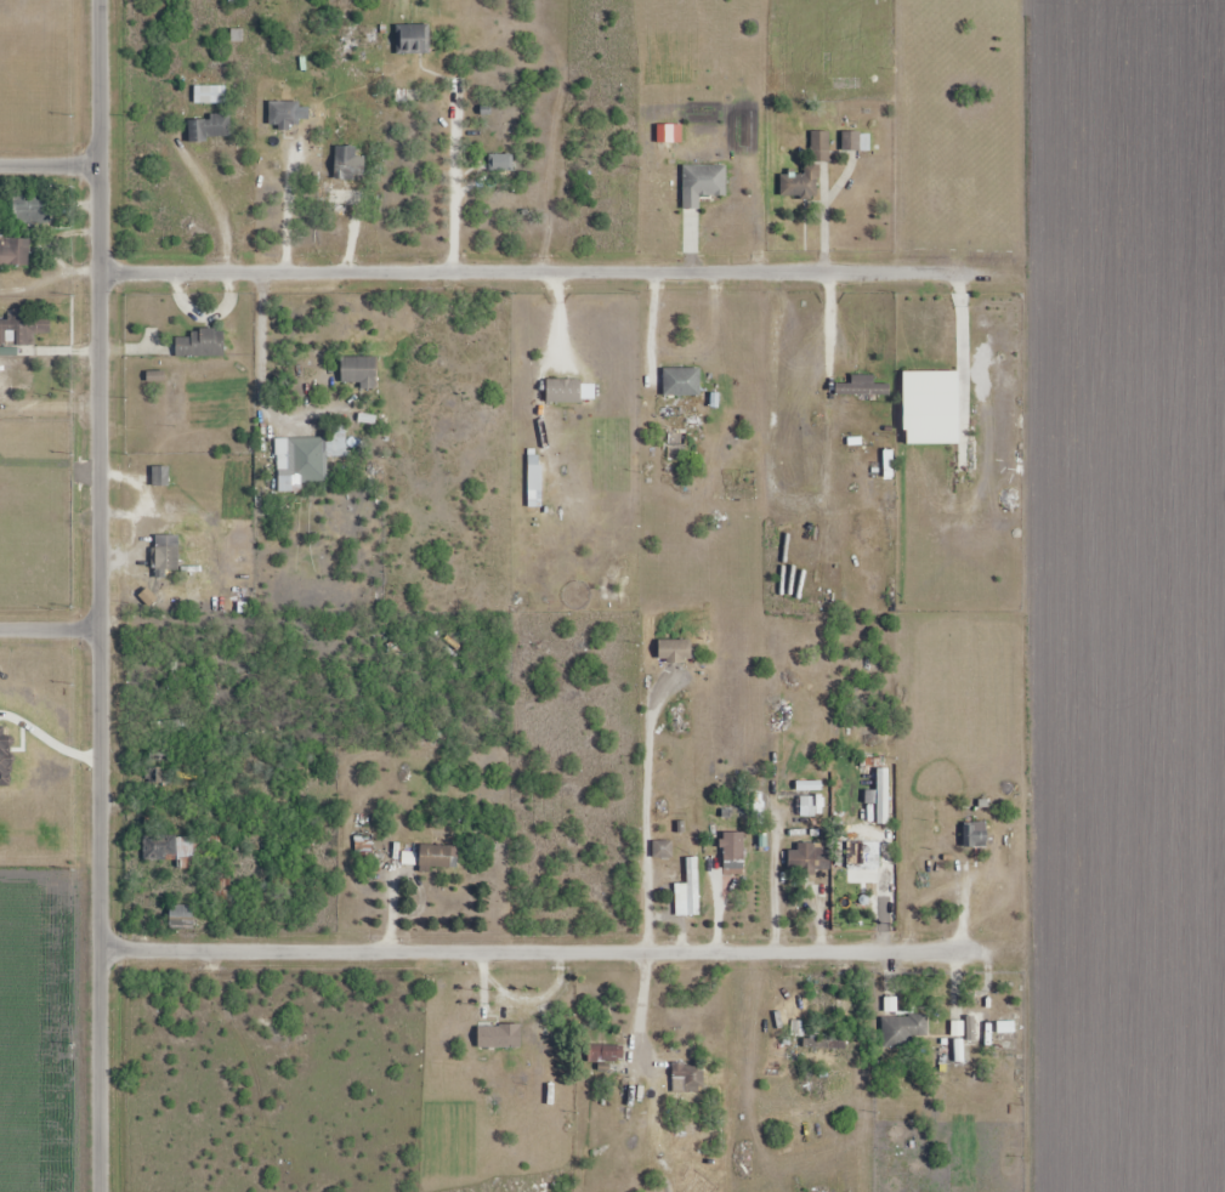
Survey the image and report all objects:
building: (413, 39)
building: (209, 95)
building: (283, 114)
building: (209, 127)
building: (851, 141)
building: (348, 163)
building: (501, 163)
road: (52, 166)
building: (806, 171)
building: (702, 185)
building: (338, 198)
road: (215, 208)
building: (32, 211)
building: (13, 252)
road: (500, 274)
building: (17, 333)
building: (198, 344)
building: (358, 371)
building: (12, 381)
building: (682, 381)
building: (862, 387)
building: (308, 461)
building: (160, 476)
building: (166, 558)
road: (101, 596)
road: (50, 631)
building: (674, 652)
building: (170, 725)
building: (163, 777)
building: (805, 806)
building: (975, 834)
building: (662, 850)
building: (171, 851)
building: (863, 856)
building: (435, 858)
building: (810, 859)
building: (409, 861)
building: (733, 862)
building: (688, 891)
building: (181, 919)
road: (544, 954)
building: (902, 1029)
building: (498, 1037)
building: (826, 1040)
building: (605, 1054)
building: (959, 1055)
building: (687, 1079)

